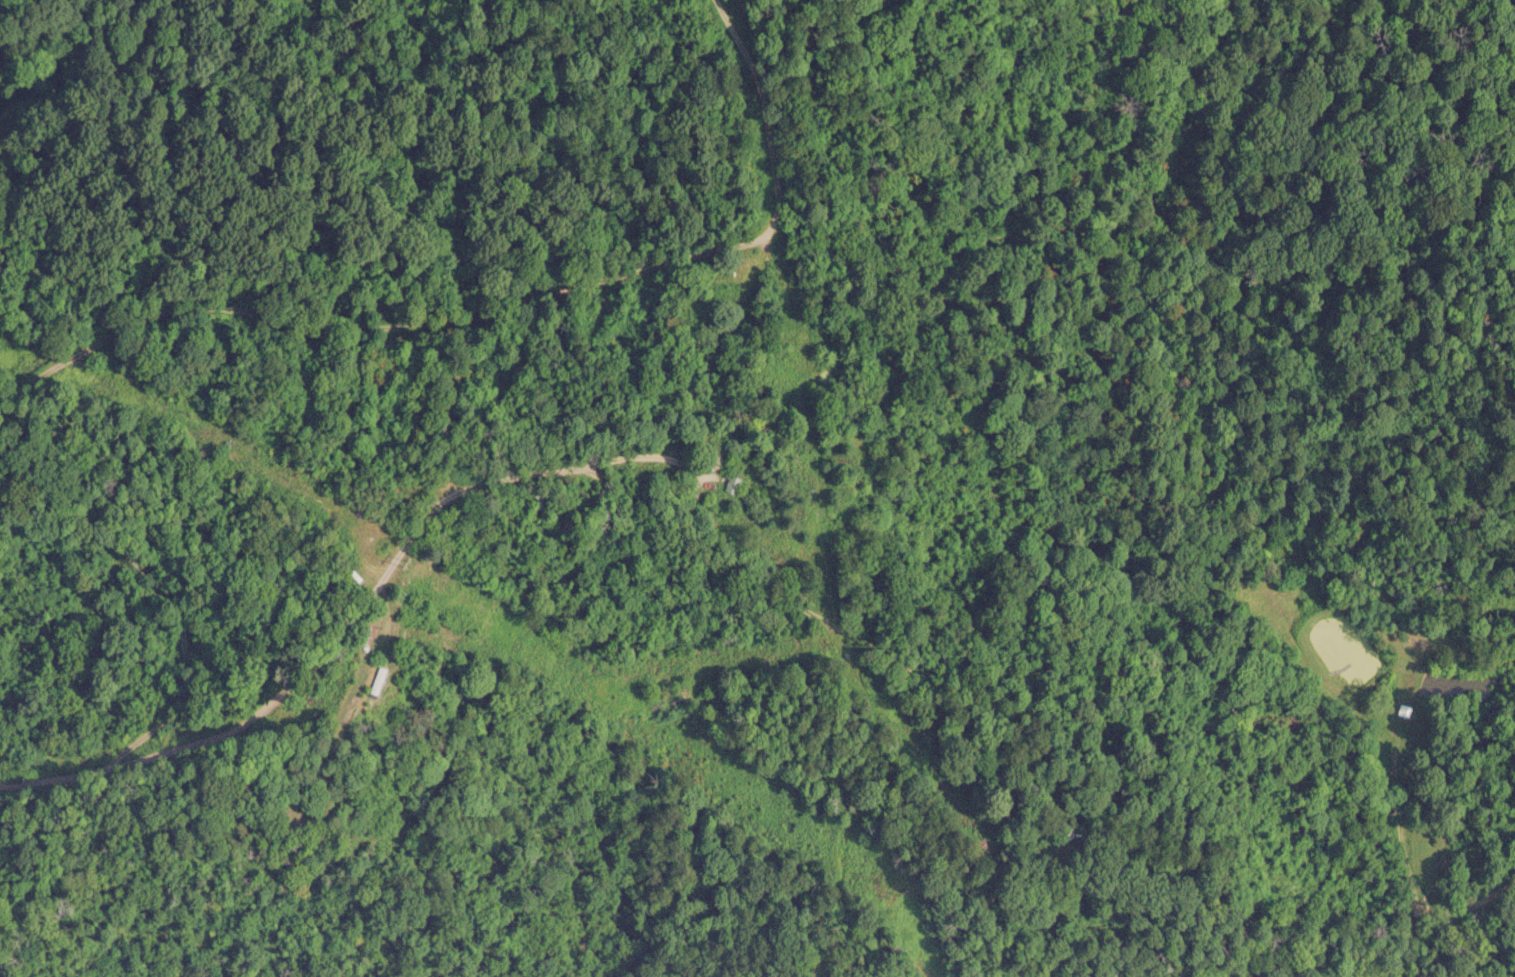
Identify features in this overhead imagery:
road: (1, 2)
road: (726, 103)
road: (369, 303)
building: (727, 484)
road: (604, 498)
road: (690, 501)
road: (115, 601)
building: (373, 682)
building: (1402, 711)

